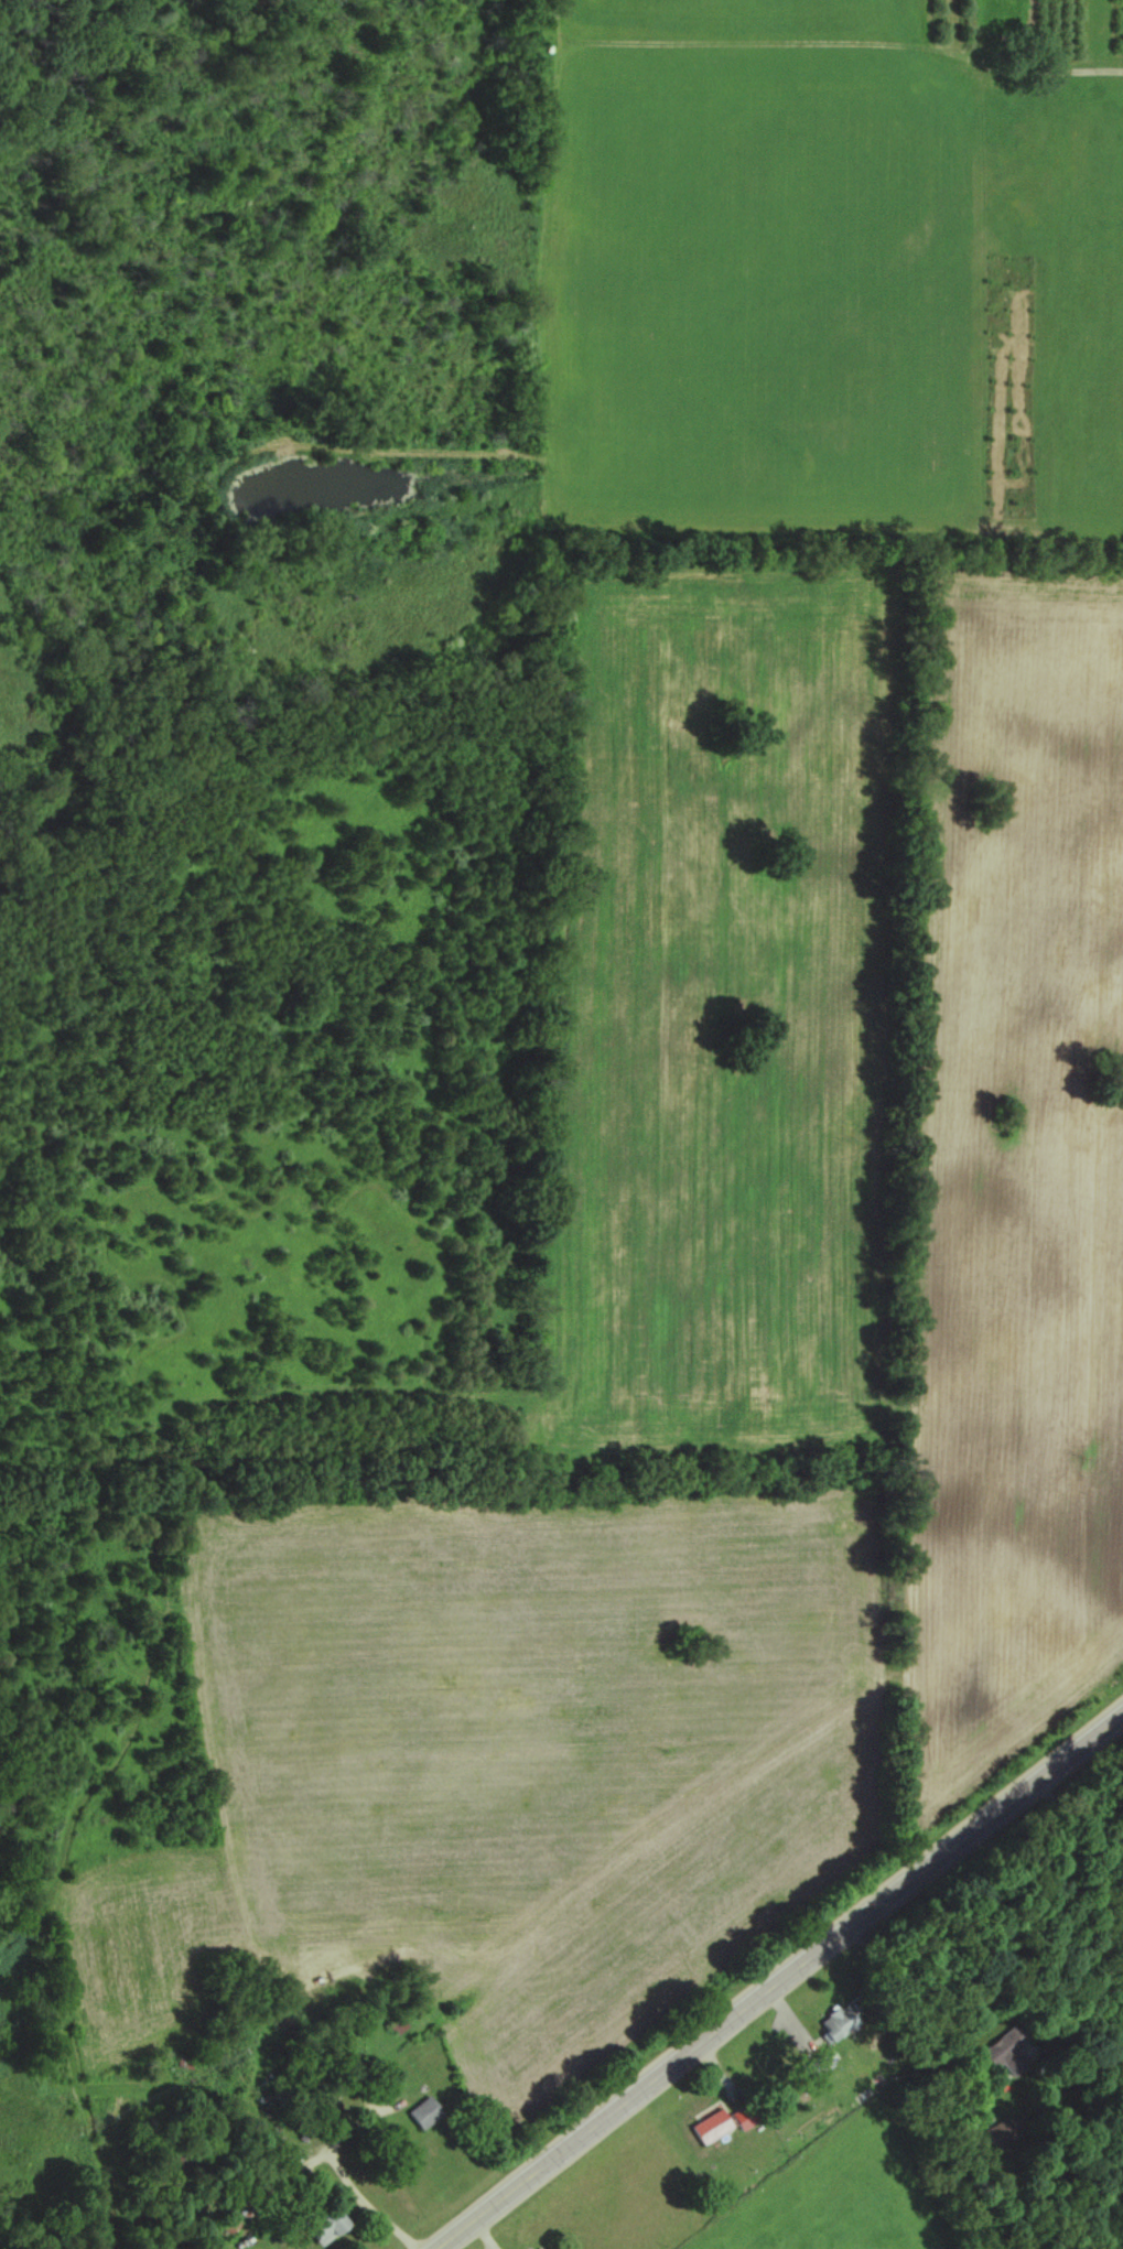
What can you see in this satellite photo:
road: (1069, 1829)
road: (777, 1979)
road: (921, 2000)
building: (833, 2022)
building: (391, 2023)
building: (1008, 2040)
building: (417, 2111)
building: (717, 2122)
building: (317, 2221)
building: (534, 2247)

